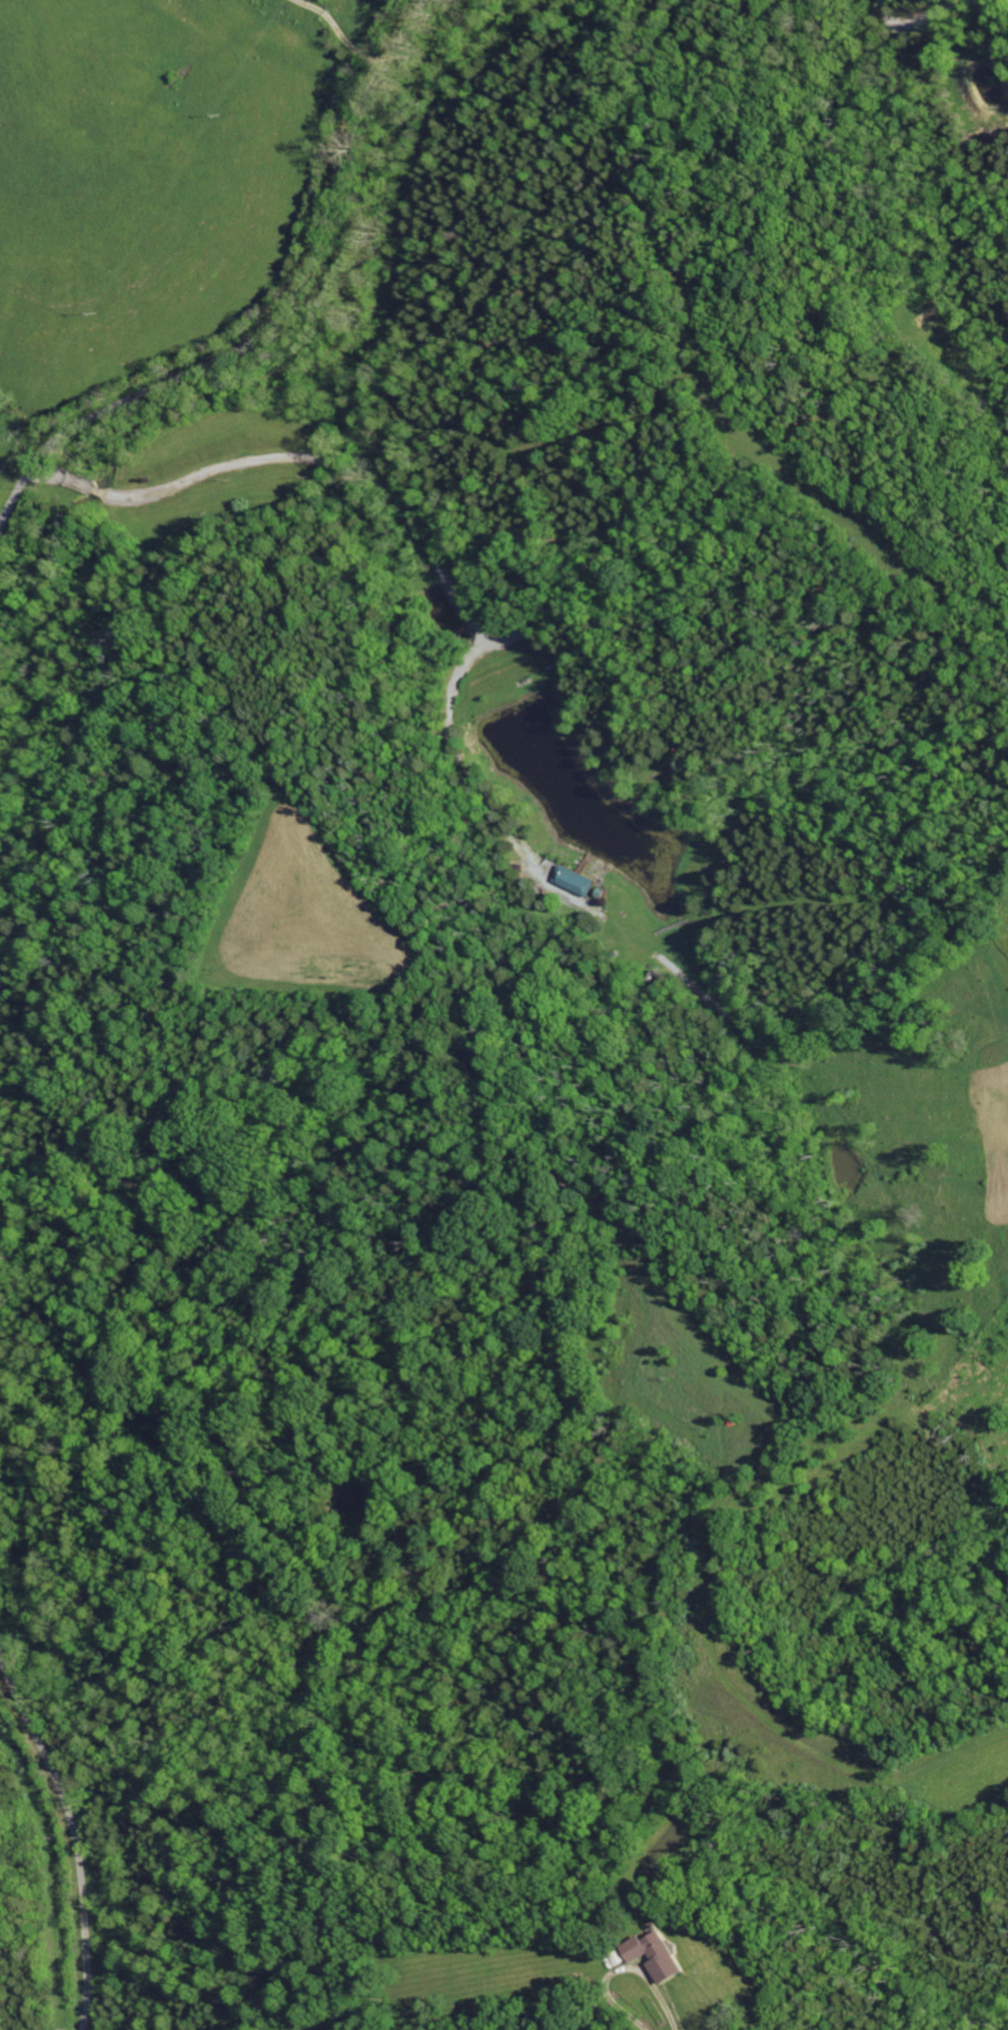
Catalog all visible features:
road: (344, 32)
road: (276, 320)
building: (578, 880)
road: (74, 1836)
building: (656, 1955)
road: (627, 1971)

